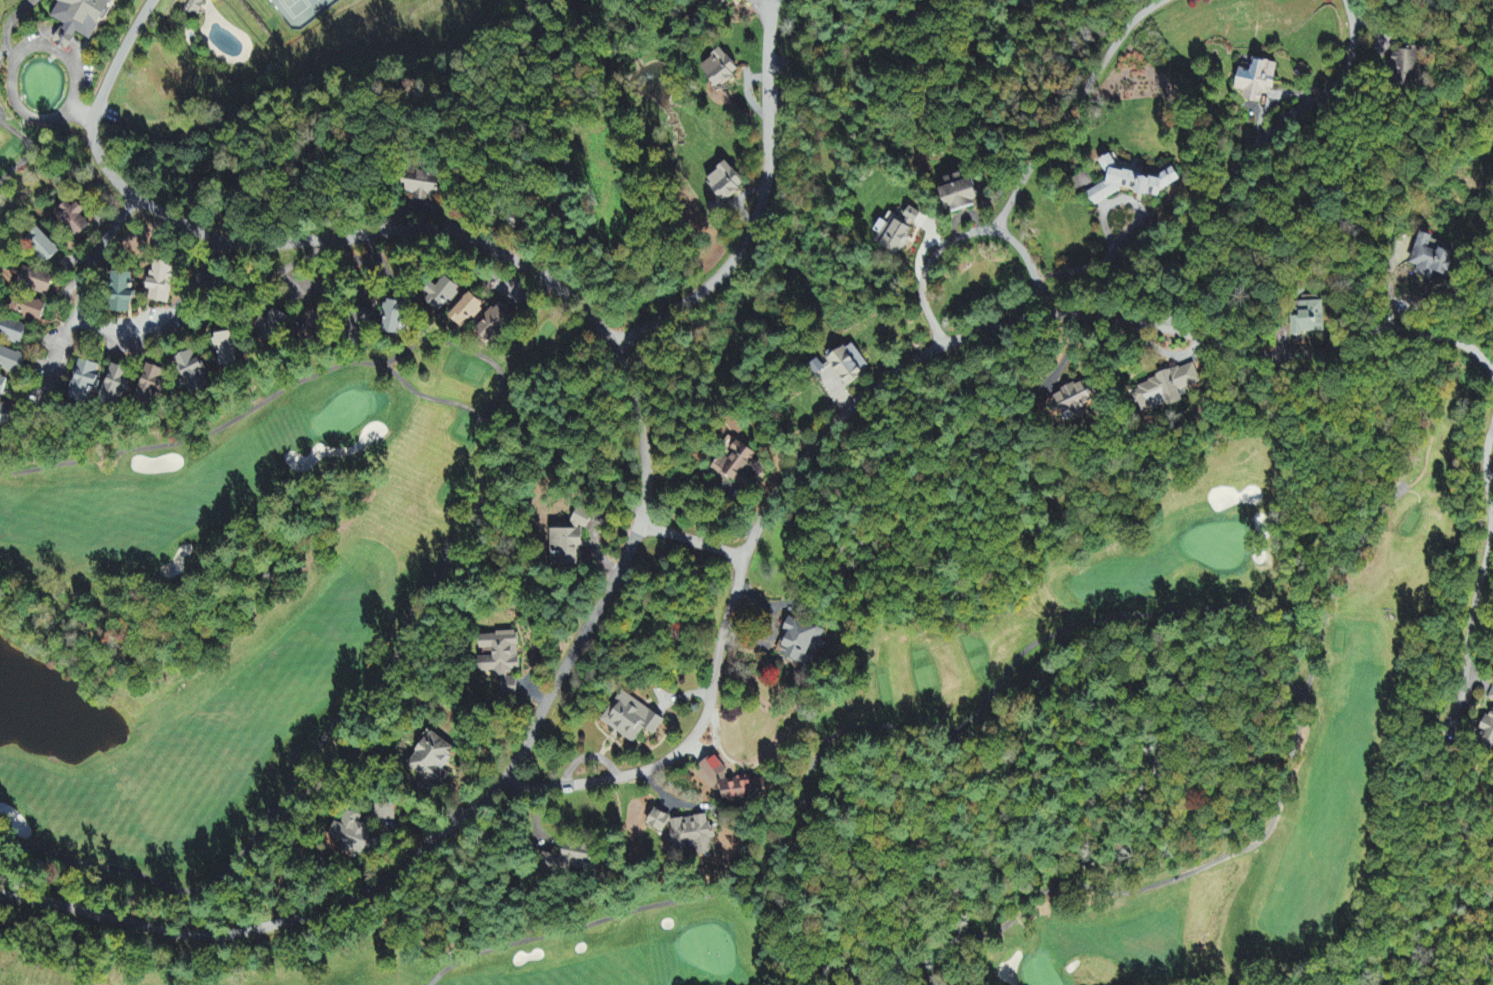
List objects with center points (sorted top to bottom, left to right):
building: (719, 2)
building: (194, 7)
building: (80, 20)
road: (9, 26)
road: (23, 53)
park: (186, 57)
building: (1404, 69)
building: (720, 70)
building: (1258, 81)
road: (1072, 106)
road: (1249, 153)
building: (726, 184)
building: (1131, 184)
building: (423, 185)
building: (960, 194)
road: (759, 206)
building: (912, 218)
building: (73, 220)
road: (965, 236)
building: (894, 237)
building: (43, 247)
building: (1431, 259)
road: (273, 272)
building: (36, 283)
building: (162, 285)
building: (122, 295)
building: (444, 296)
building: (29, 310)
building: (468, 314)
building: (394, 320)
building: (1310, 320)
building: (314, 321)
building: (494, 327)
building: (274, 330)
road: (106, 331)
building: (13, 332)
road: (56, 345)
building: (226, 351)
building: (11, 363)
building: (849, 366)
road: (896, 375)
building: (193, 376)
building: (84, 383)
building: (153, 384)
building: (2, 388)
building: (115, 389)
building: (1166, 390)
building: (1074, 403)
building: (5, 417)
building: (735, 461)
road: (645, 476)
building: (570, 540)
road: (692, 542)
road: (1480, 580)
park: (352, 610)
building: (801, 641)
building: (500, 654)
park: (939, 690)
building: (1491, 697)
building: (631, 718)
building: (1487, 732)
building: (433, 760)
building: (744, 788)
building: (659, 821)
building: (351, 832)
building: (695, 834)
building: (568, 858)
park: (52, 970)

